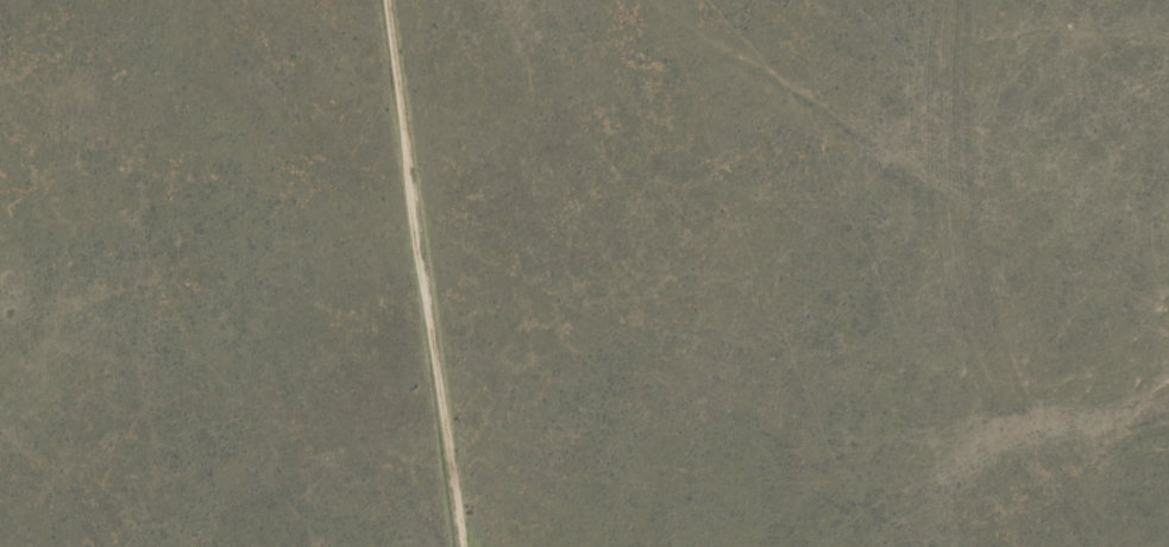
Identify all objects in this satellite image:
road: (957, 291)

